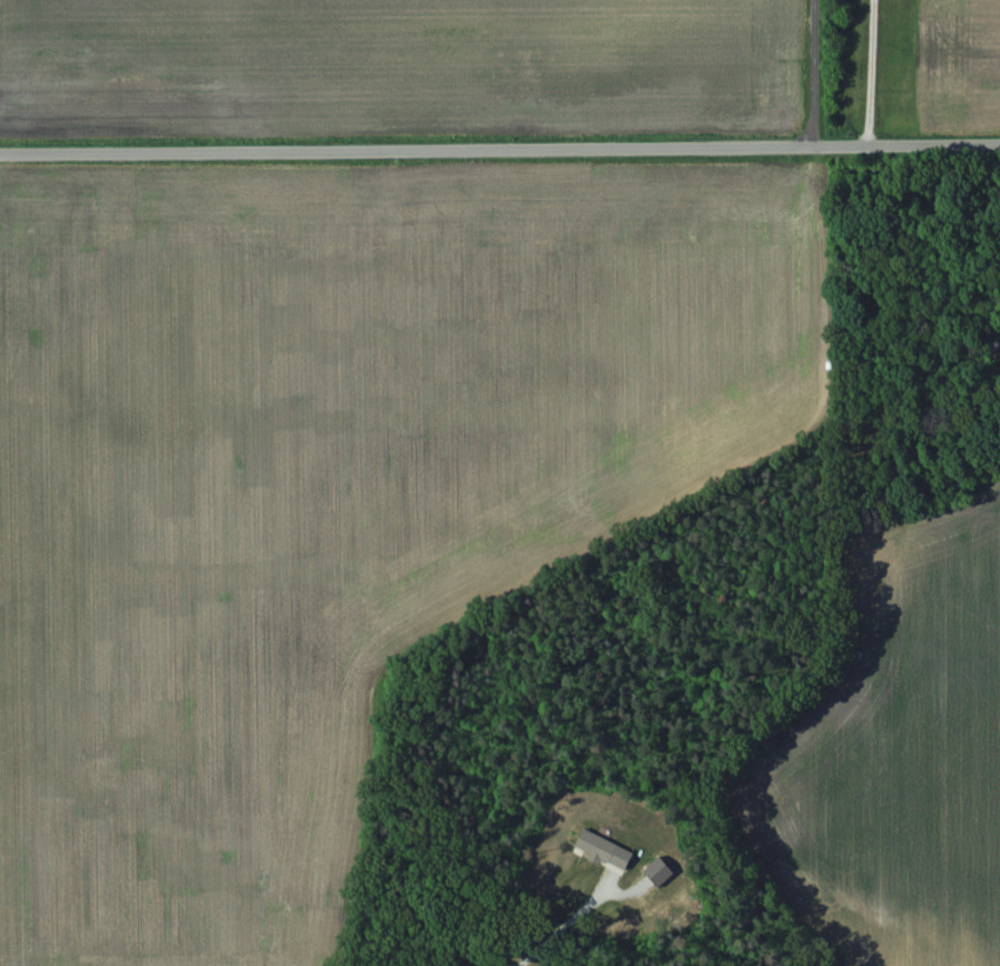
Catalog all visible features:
road: (863, 70)
road: (499, 142)
building: (993, 340)

